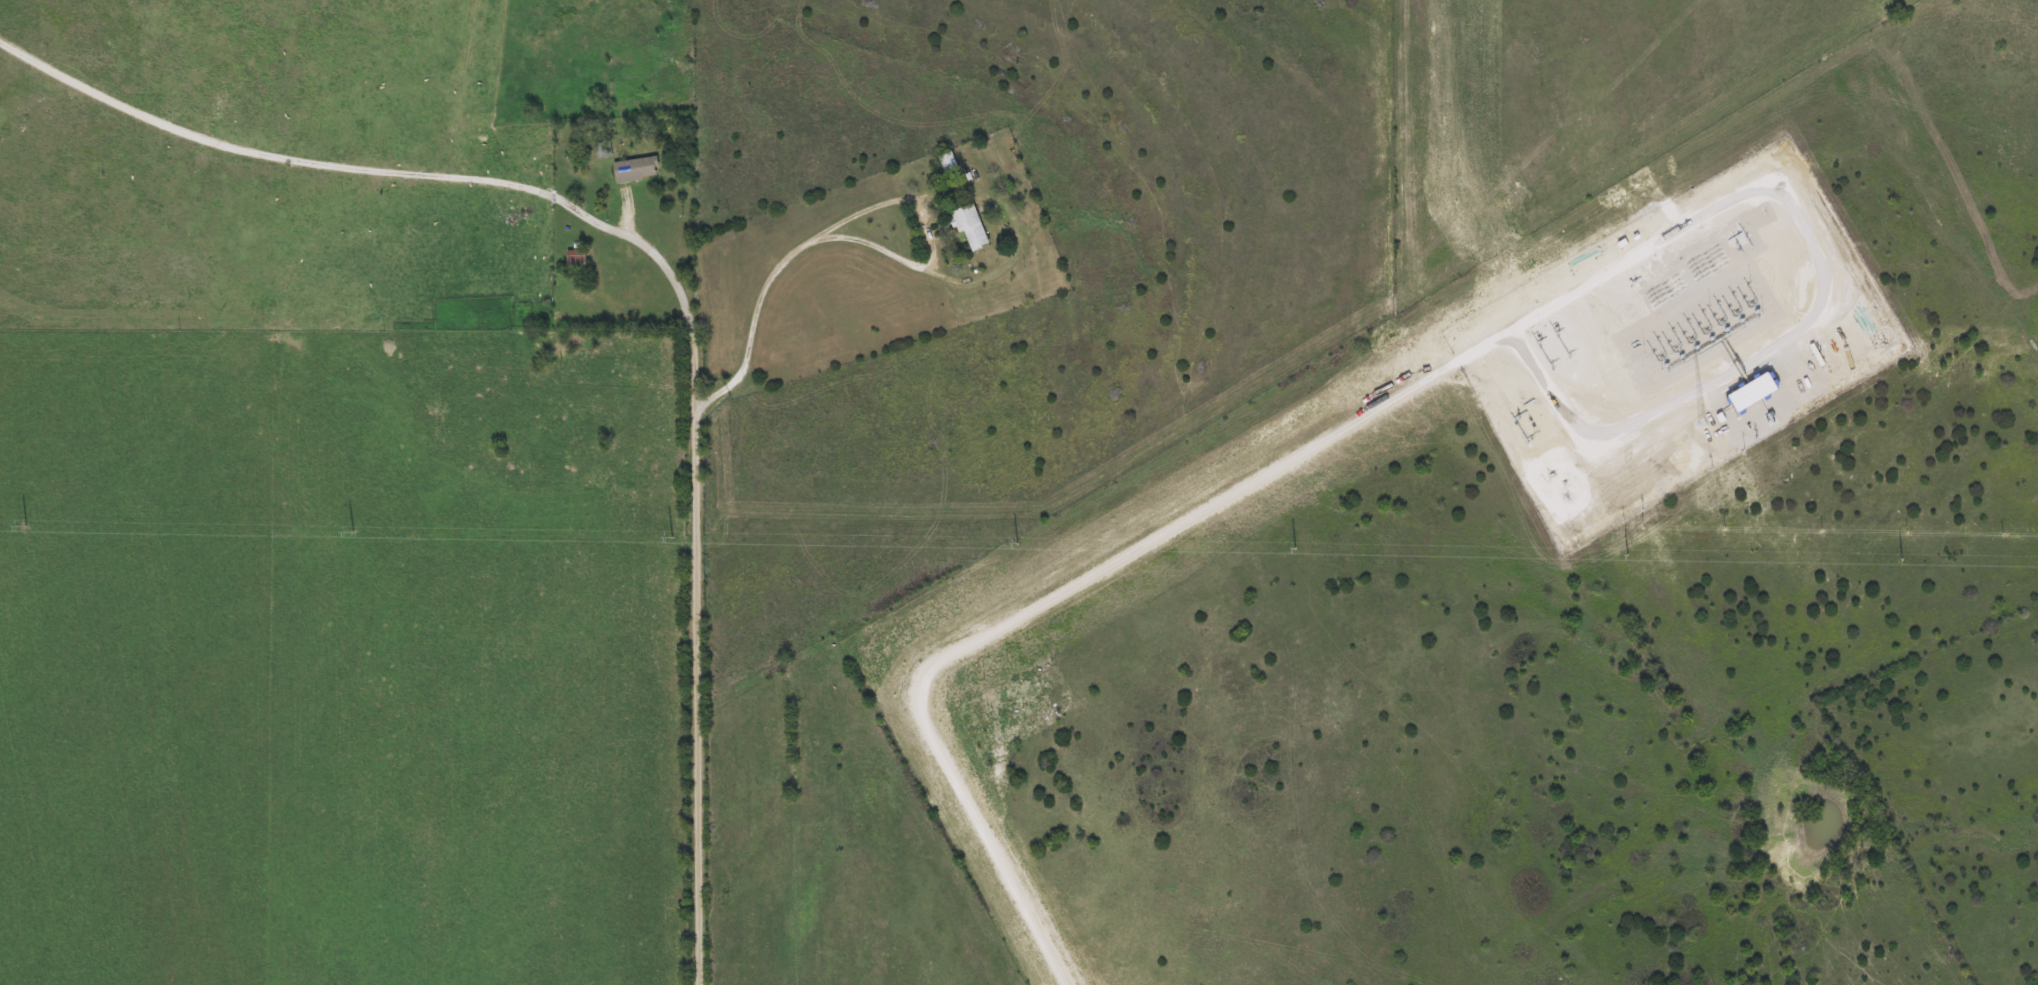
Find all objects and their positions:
building: (630, 168)
building: (964, 224)
road: (644, 244)
road: (772, 271)
road: (698, 660)

